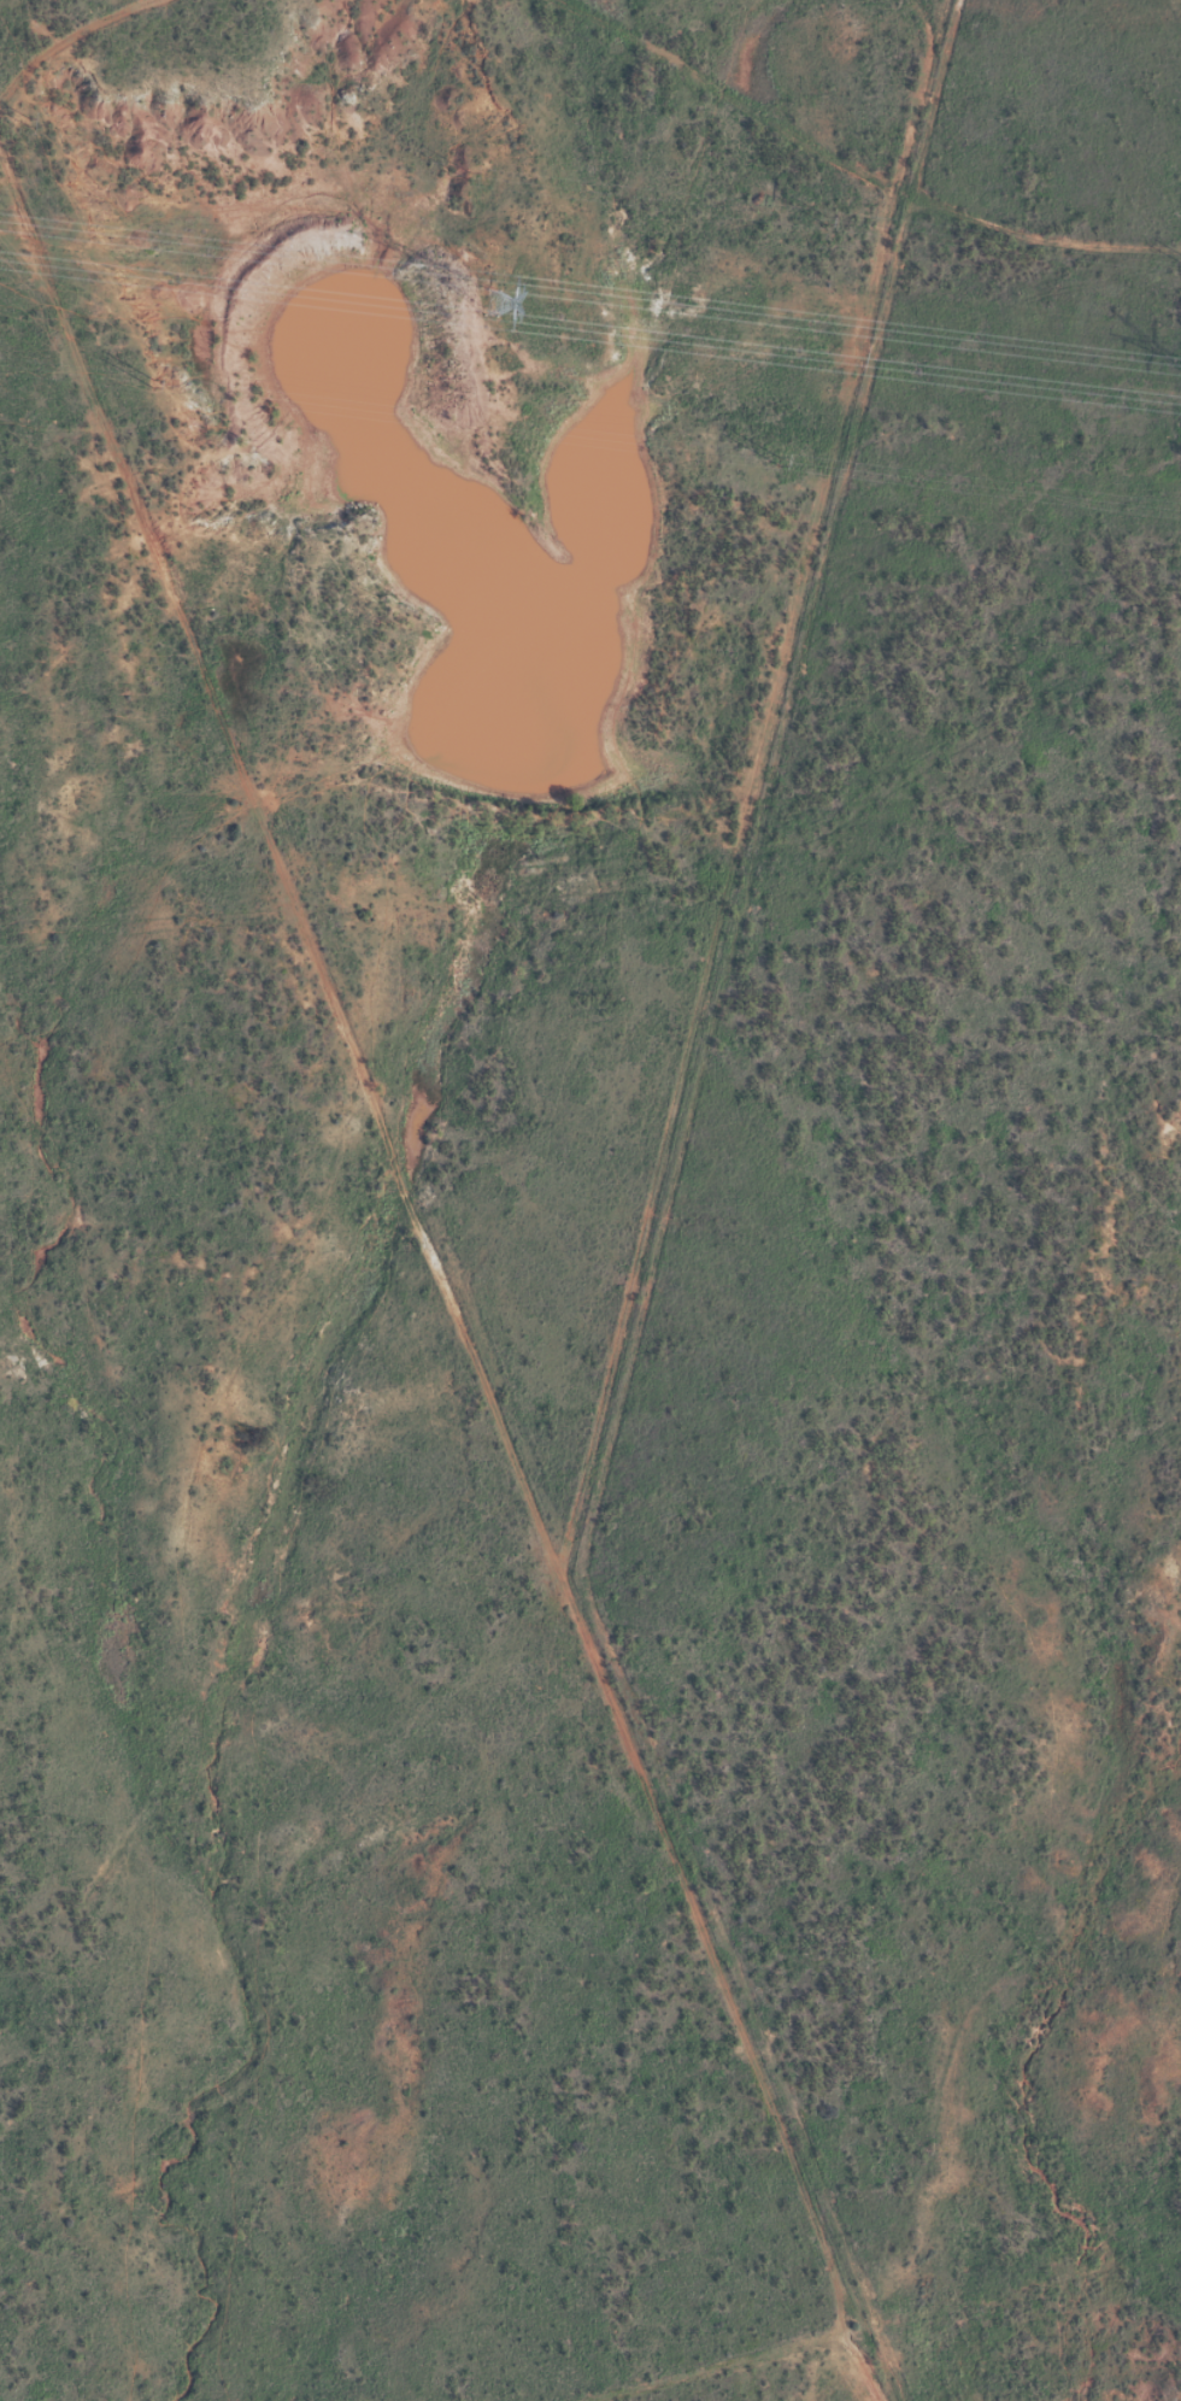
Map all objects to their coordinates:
road: (106, 58)
power tower: (39, 124)
power tower: (469, 178)
road: (821, 182)
power tower: (823, 221)
power tower: (490, 295)
power tower: (153, 386)
power tower: (780, 463)

